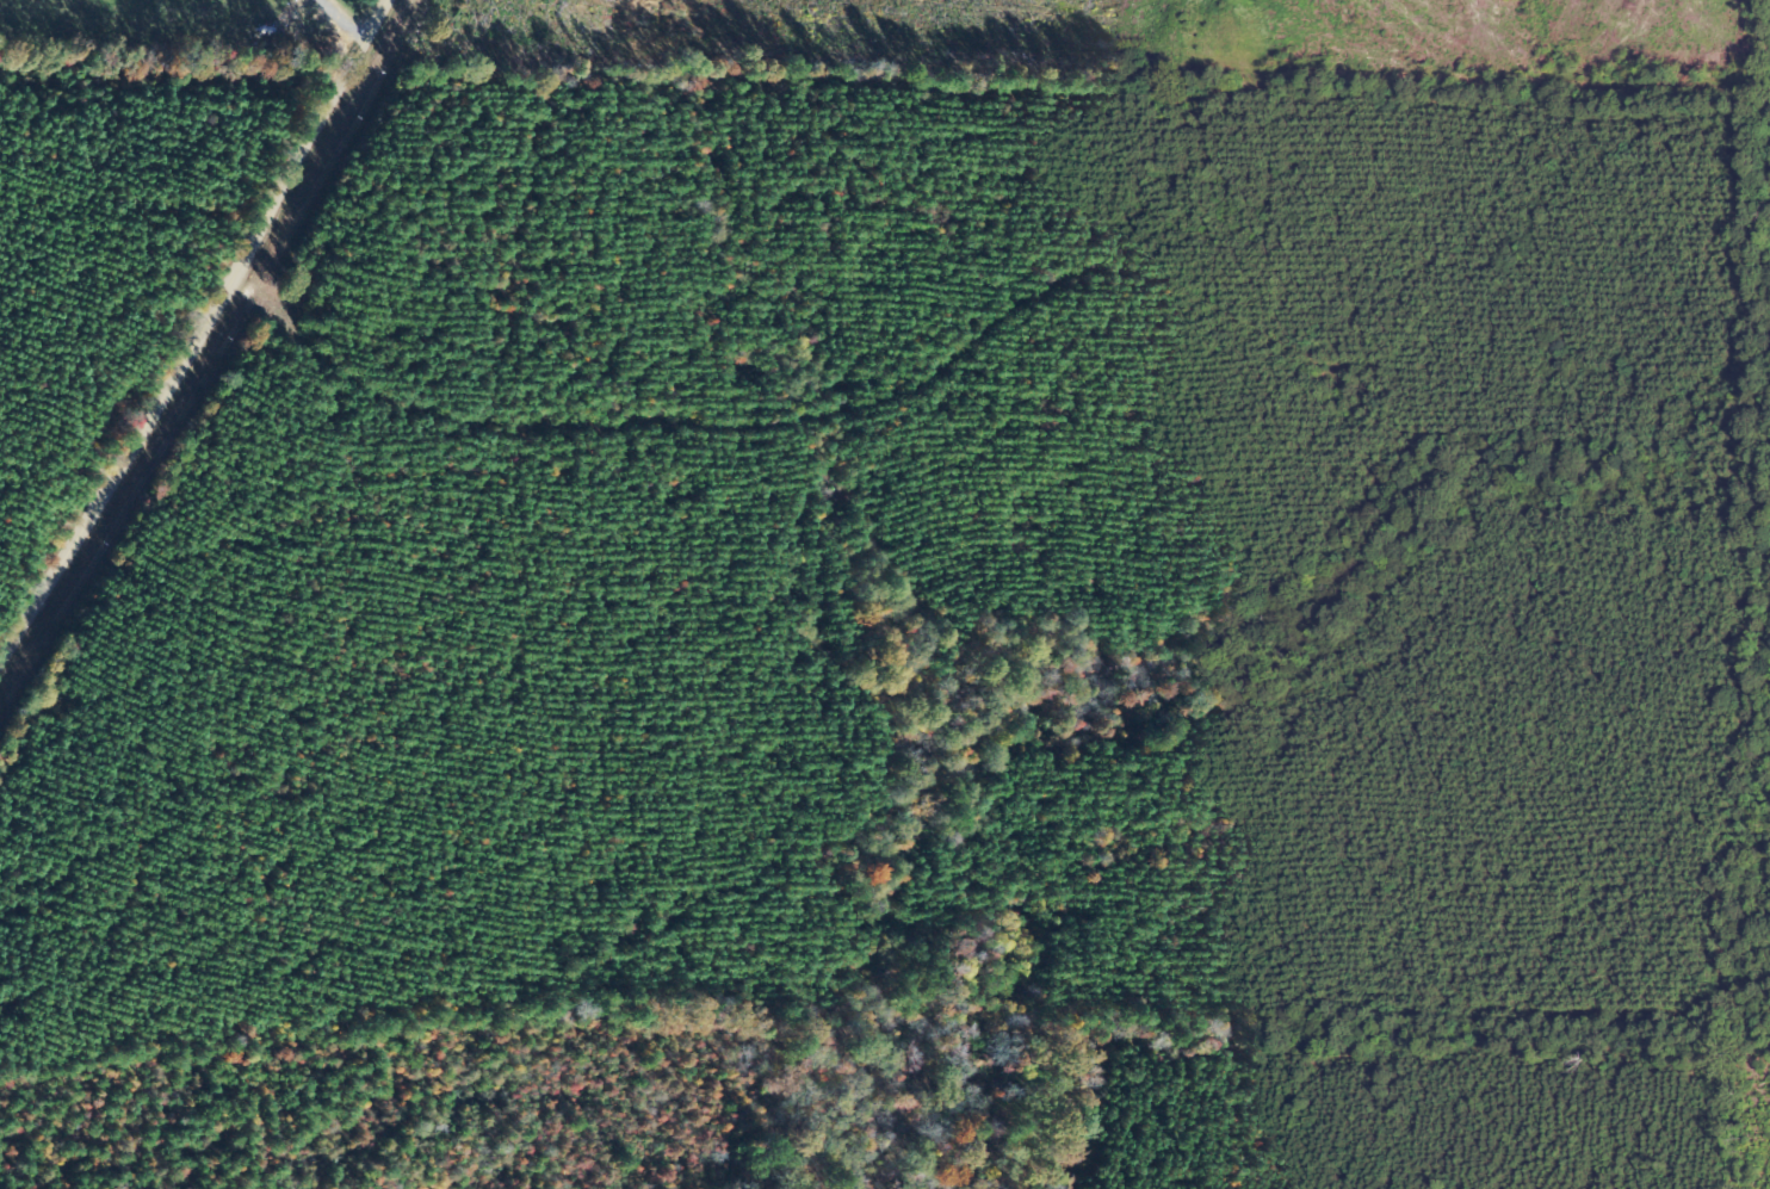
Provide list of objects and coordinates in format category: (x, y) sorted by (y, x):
road: (239, 404)

